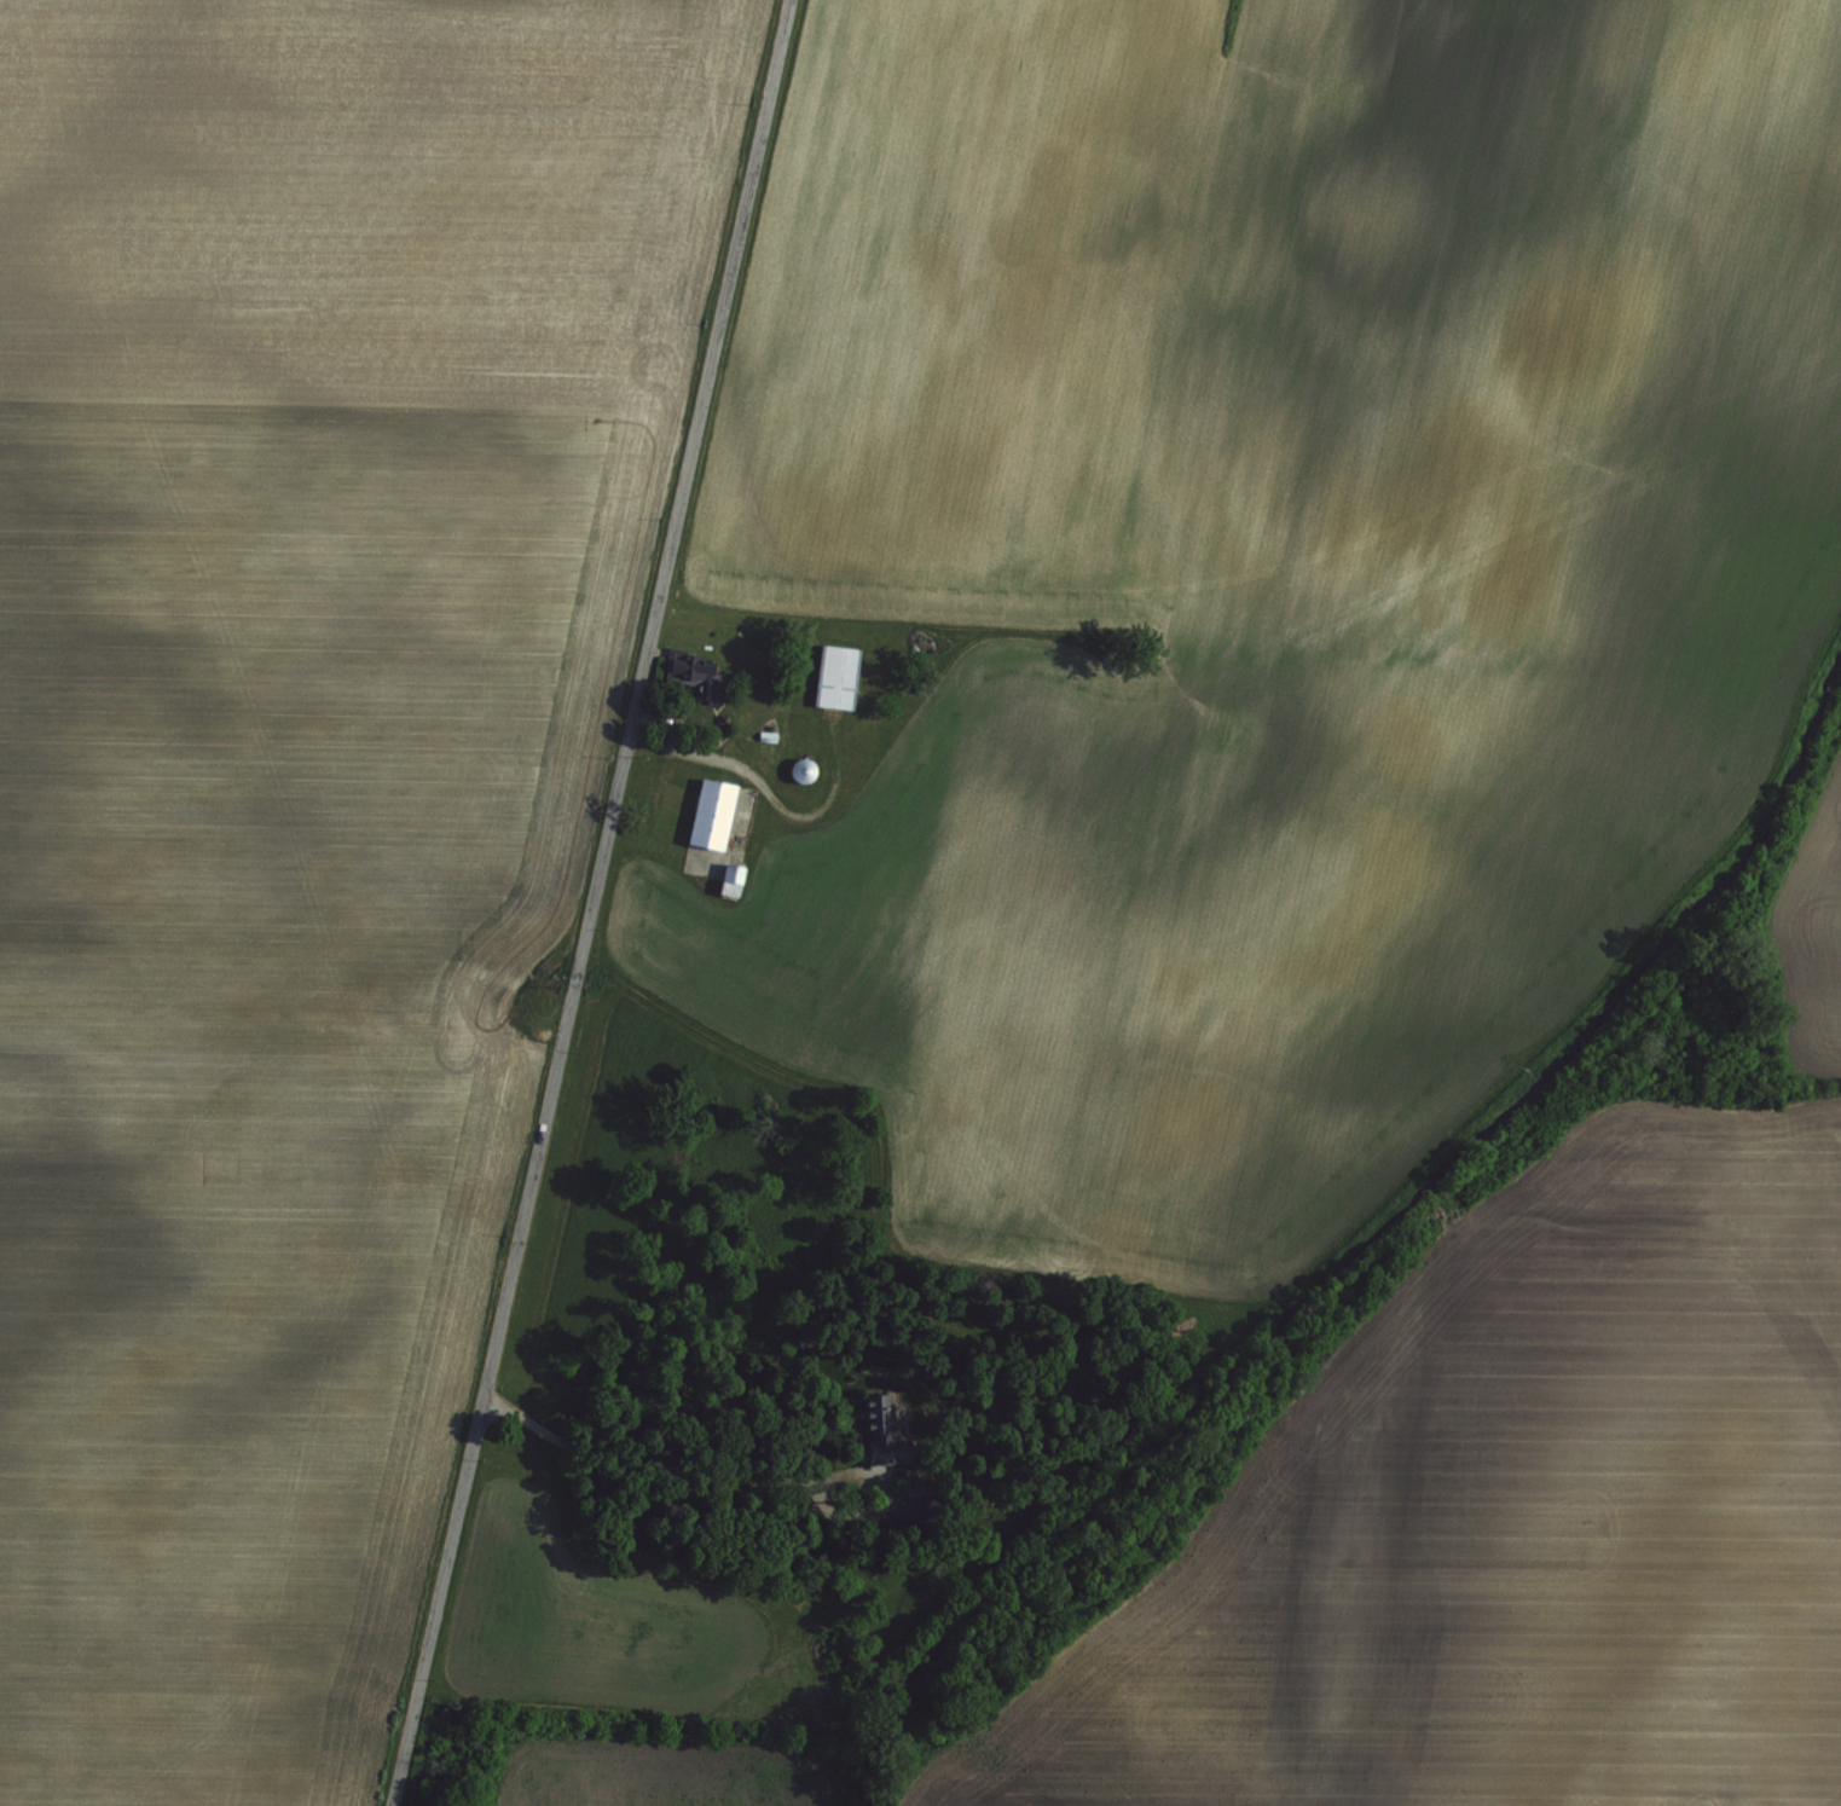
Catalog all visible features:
building: (832, 675)
building: (693, 677)
road: (768, 791)
building: (705, 811)
building: (725, 878)
road: (589, 902)
building: (874, 1425)
road: (660, 1486)

